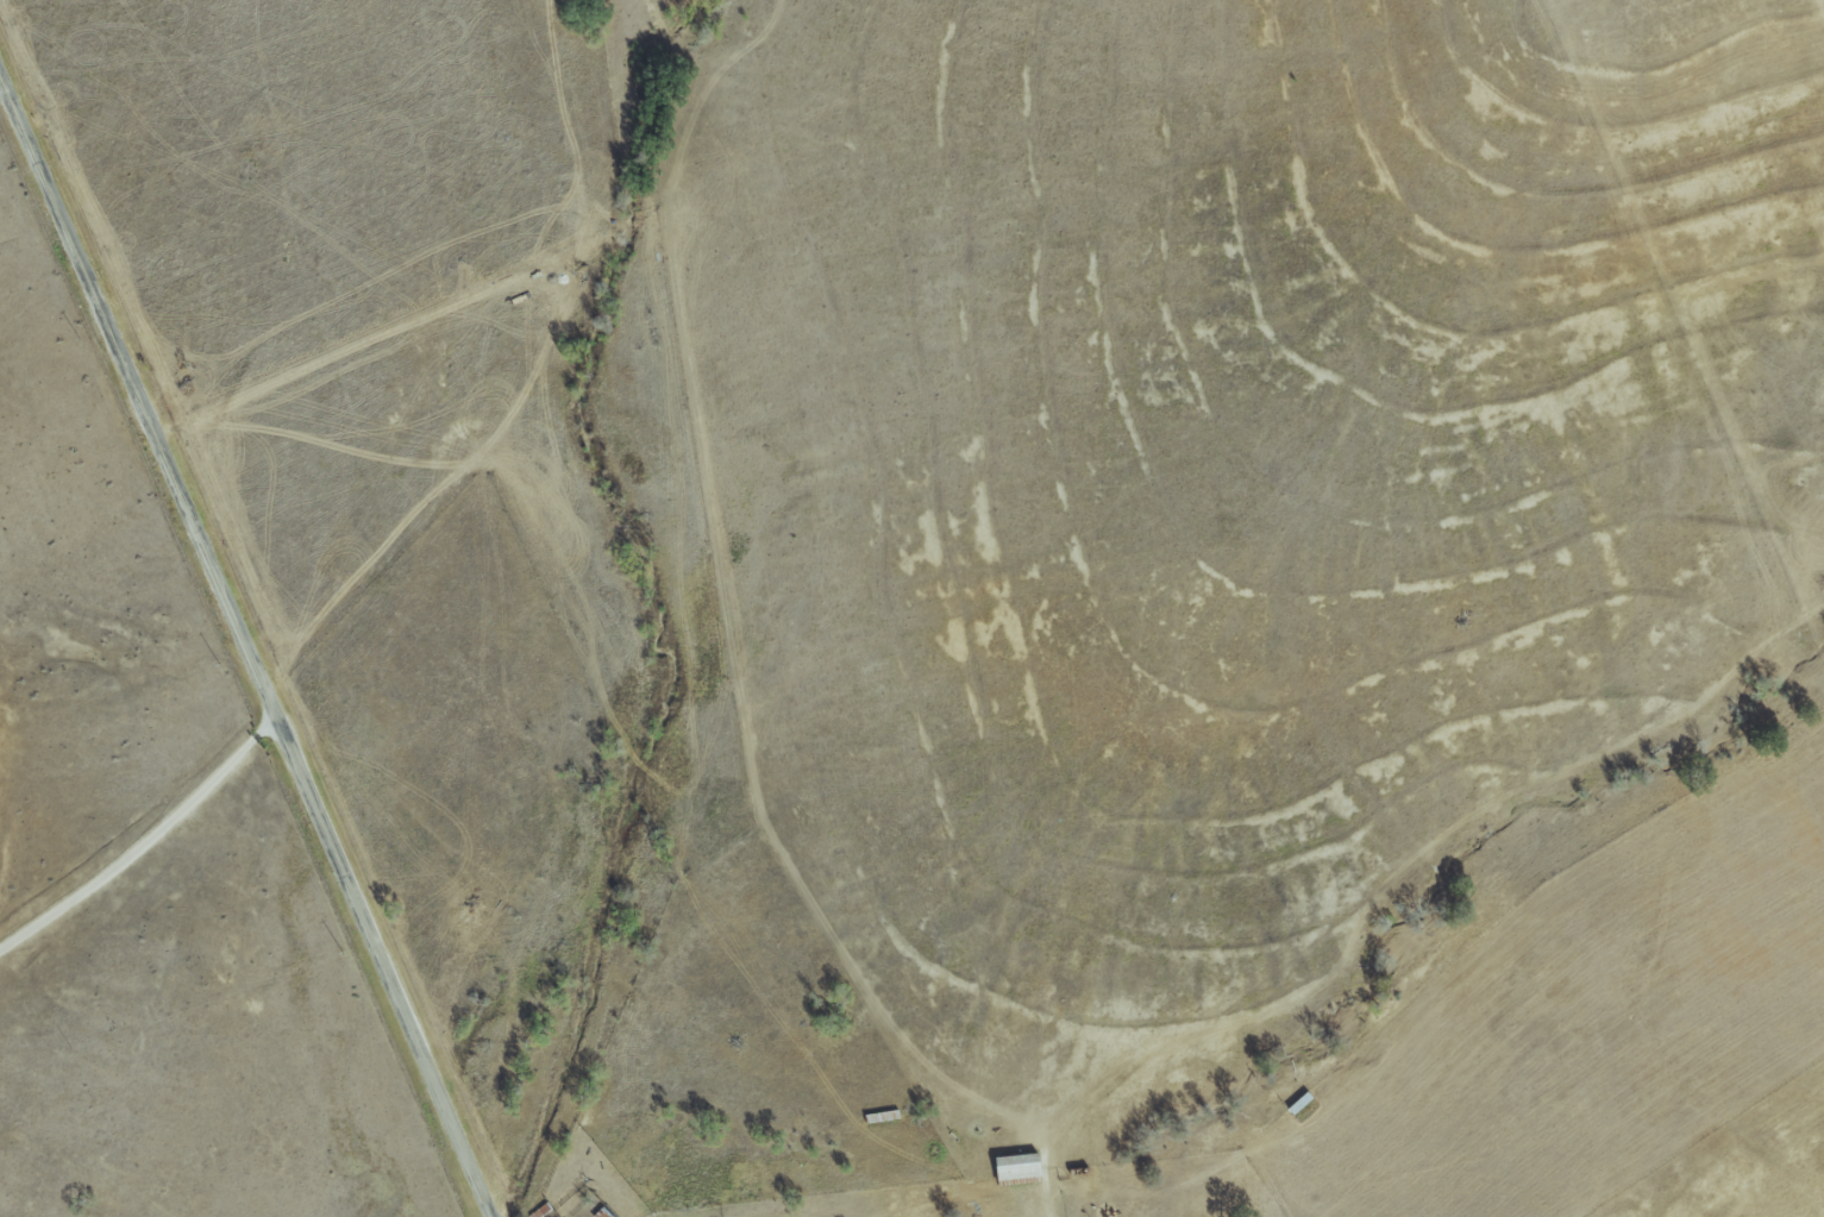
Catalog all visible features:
road: (247, 646)
road: (261, 727)
road: (239, 748)
road: (120, 853)
road: (1048, 1211)

